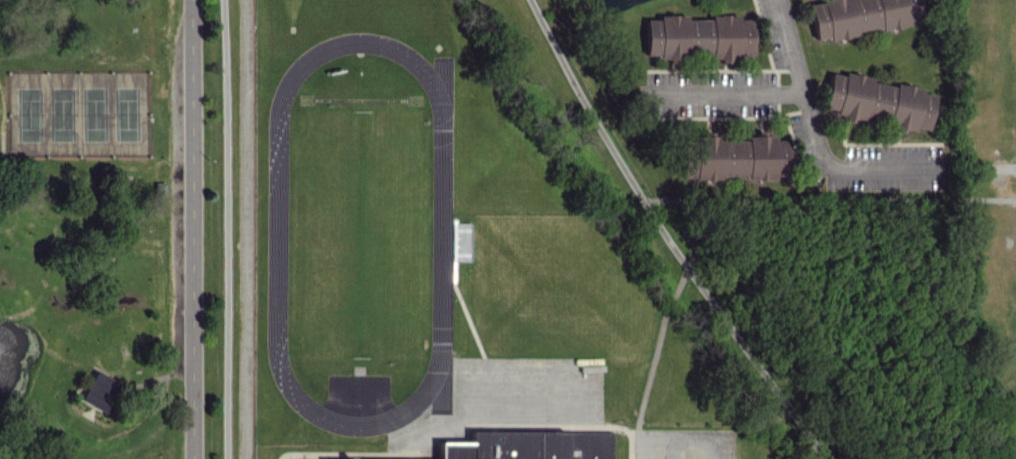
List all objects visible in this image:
building: (858, 16)
building: (698, 37)
road: (721, 93)
building: (876, 102)
park: (76, 111)
road: (811, 130)
building: (734, 157)
park: (91, 229)
road: (191, 229)
road: (227, 229)
railway: (232, 229)
track: (441, 232)
road: (665, 237)
building: (101, 391)
road: (676, 437)
building: (516, 443)
parking lot: (686, 444)

